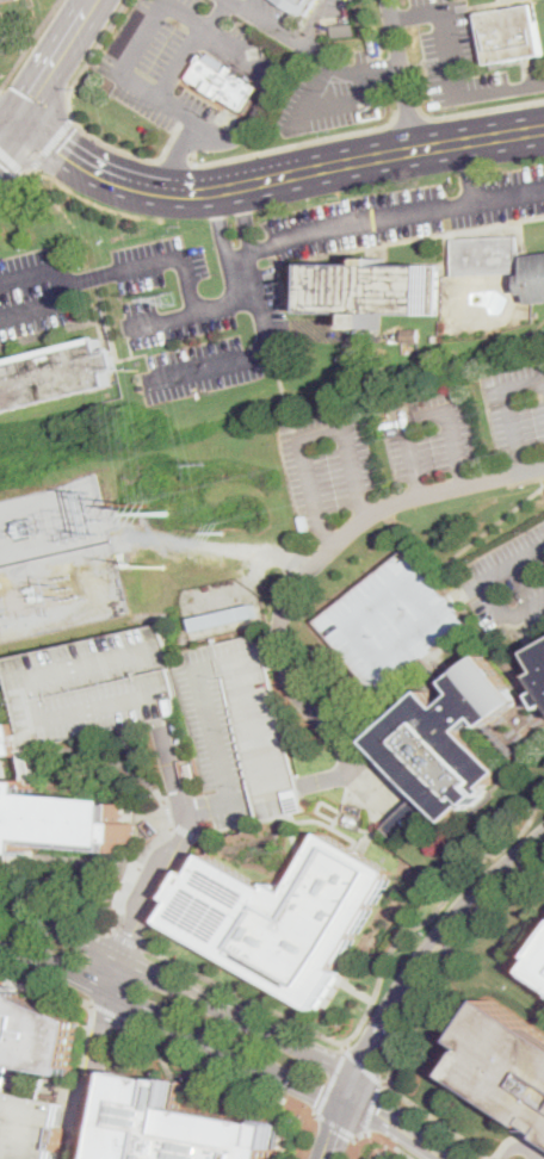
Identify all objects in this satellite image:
building: (7, 1)
road: (488, 2)
building: (298, 5)
building: (347, 10)
road: (218, 16)
road: (320, 21)
building: (342, 29)
building: (4, 30)
building: (512, 33)
road: (144, 37)
road: (29, 45)
road: (313, 50)
parking lot: (462, 58)
road: (183, 61)
road: (54, 62)
parking lot: (177, 66)
road: (453, 69)
road: (402, 75)
building: (221, 80)
parking lot: (333, 91)
road: (311, 94)
road: (348, 100)
road: (37, 104)
road: (253, 106)
road: (486, 109)
road: (410, 117)
road: (75, 118)
road: (7, 119)
traffic signals: (16, 124)
road: (7, 134)
road: (51, 141)
road: (291, 145)
road: (177, 154)
road: (174, 159)
road: (13, 162)
road: (468, 172)
road: (273, 180)
road: (376, 184)
road: (16, 185)
parking lot: (500, 197)
road: (113, 207)
road: (389, 215)
parking lot: (359, 221)
road: (245, 222)
road: (221, 227)
building: (486, 255)
road: (155, 264)
road: (38, 272)
building: (534, 279)
building: (375, 290)
power tower: (168, 298)
road: (42, 305)
parking lot: (156, 310)
road: (191, 310)
building: (410, 335)
road: (255, 353)
power tower: (136, 371)
building: (55, 374)
road: (282, 385)
parking lot: (515, 405)
road: (509, 410)
road: (422, 411)
parking lot: (429, 432)
road: (309, 433)
parking lot: (326, 460)
power tower: (206, 463)
road: (539, 478)
power tower: (144, 503)
power tower: (93, 513)
power tower: (168, 513)
road: (397, 526)
road: (488, 529)
power tower: (225, 533)
road: (204, 543)
power substation: (57, 560)
road: (296, 562)
power tower: (163, 565)
road: (500, 574)
parking lot: (512, 581)
road: (508, 612)
building: (225, 616)
building: (389, 620)
parking lot: (389, 620)
road: (482, 632)
building: (542, 656)
road: (280, 659)
building: (542, 677)
building: (89, 688)
parking lot: (89, 688)
road: (336, 694)
building: (543, 696)
building: (256, 725)
parking lot: (256, 725)
parking lot: (211, 735)
road: (8, 745)
building: (446, 746)
road: (116, 762)
road: (169, 764)
road: (376, 782)
building: (57, 817)
road: (478, 899)
road: (57, 904)
building: (283, 917)
road: (477, 935)
road: (128, 940)
building: (543, 955)
building: (540, 968)
road: (48, 979)
road: (116, 979)
road: (183, 988)
road: (358, 991)
road: (375, 997)
road: (107, 1010)
road: (174, 1022)
road: (443, 1028)
road: (387, 1031)
building: (36, 1033)
road: (346, 1046)
road: (403, 1047)
road: (202, 1059)
building: (506, 1064)
road: (364, 1066)
road: (332, 1080)
road: (385, 1083)
road: (298, 1108)
road: (371, 1108)
road: (437, 1121)
road: (335, 1123)
road: (339, 1124)
building: (184, 1126)
road: (400, 1126)
building: (27, 1127)
parking lot: (27, 1127)
road: (307, 1134)
road: (384, 1140)
road: (68, 1141)
road: (354, 1148)
road: (517, 1148)

